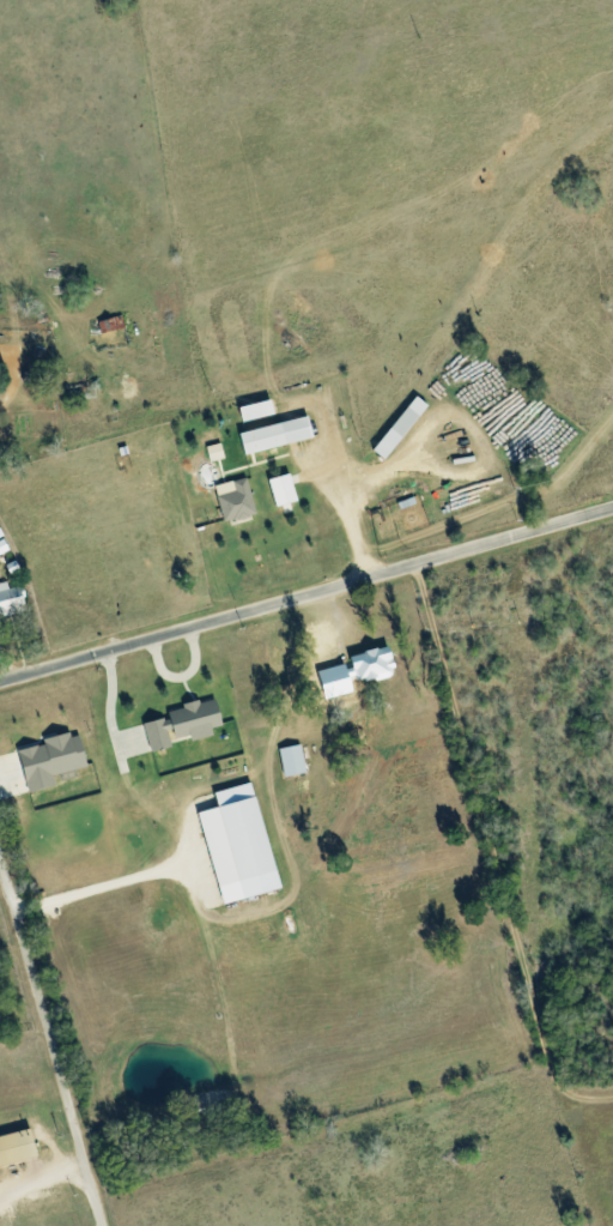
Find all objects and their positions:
building: (108, 325)
building: (395, 428)
building: (265, 429)
building: (212, 452)
building: (278, 490)
building: (232, 500)
building: (1, 546)
road: (306, 596)
building: (8, 600)
building: (368, 664)
building: (180, 725)
building: (48, 761)
building: (289, 761)
building: (8, 775)
building: (232, 846)
road: (488, 856)
road: (49, 1041)
building: (19, 1147)
road: (40, 1179)

